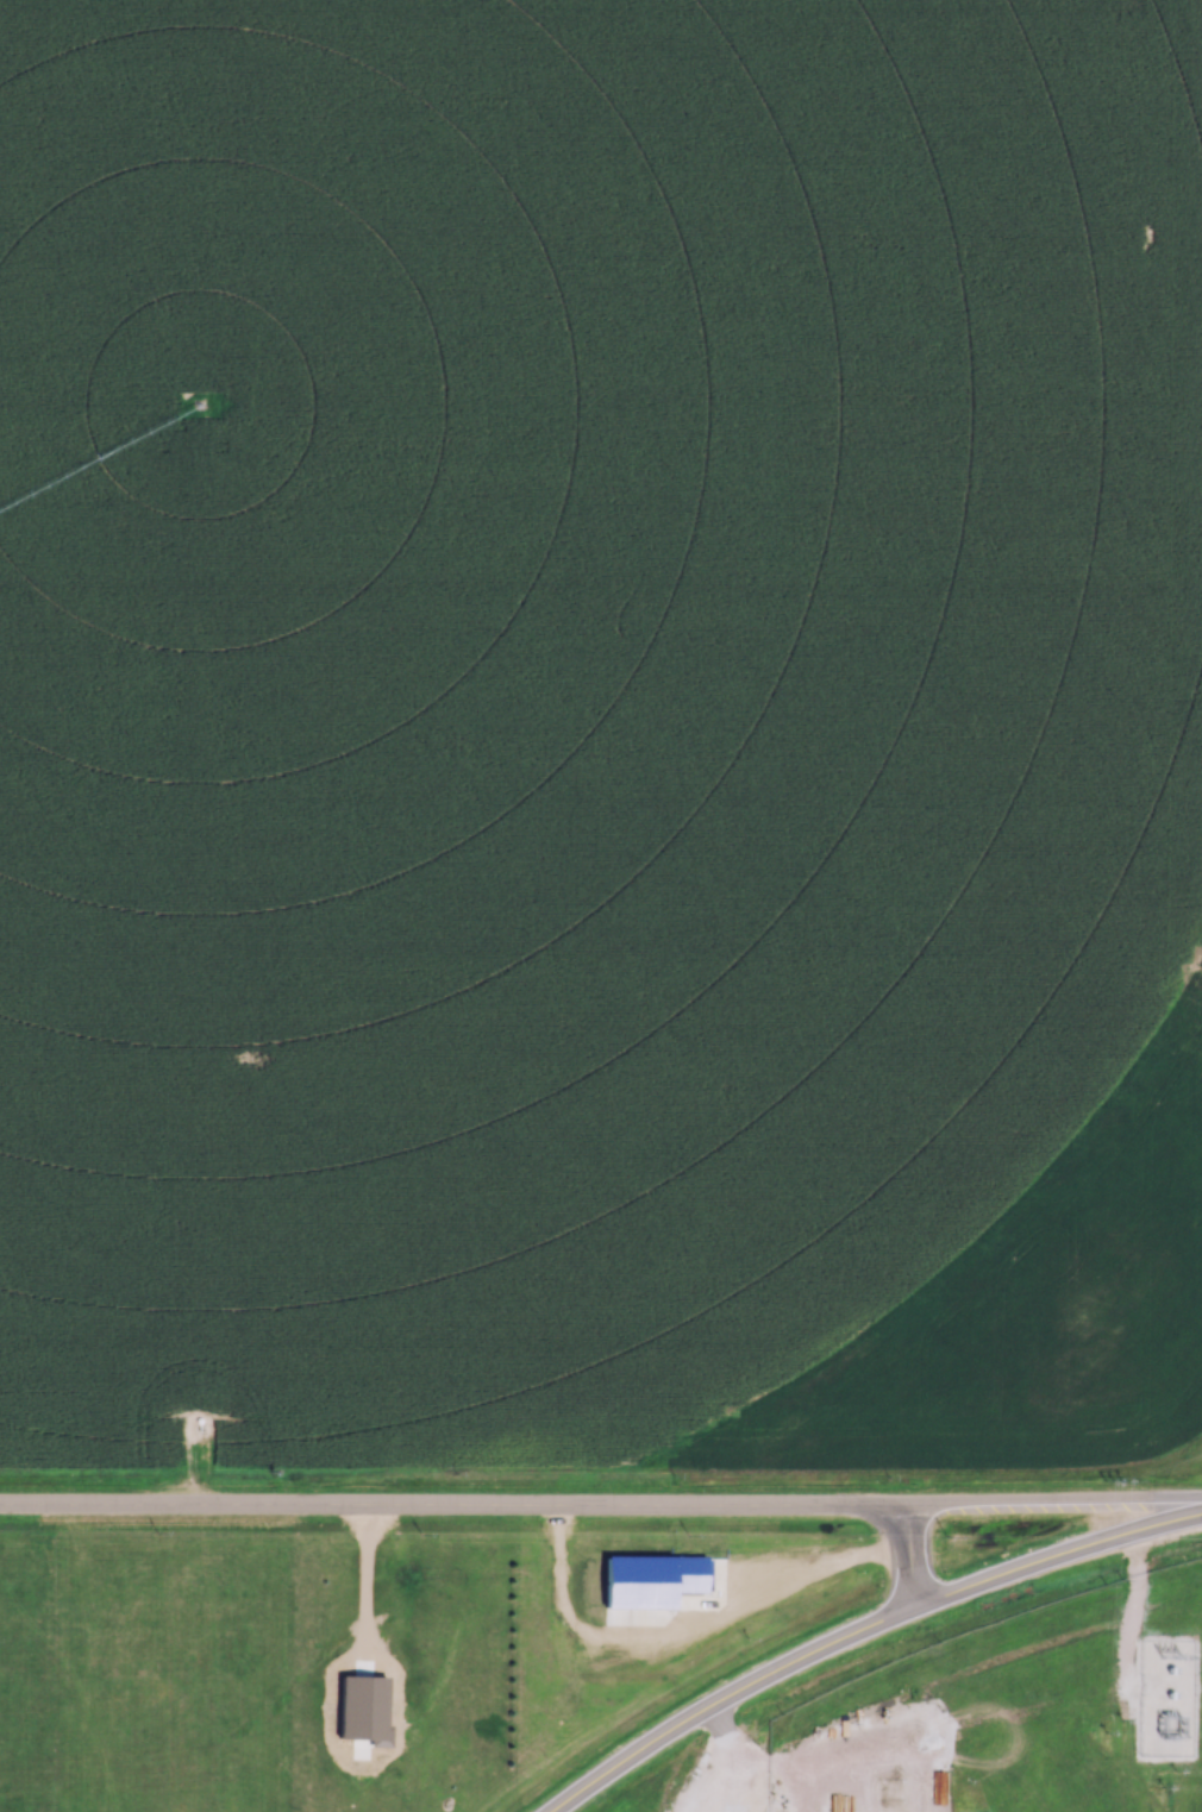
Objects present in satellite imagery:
road: (601, 1503)
road: (915, 1550)
road: (860, 1629)
power substation: (1167, 1697)
road: (834, 1758)

